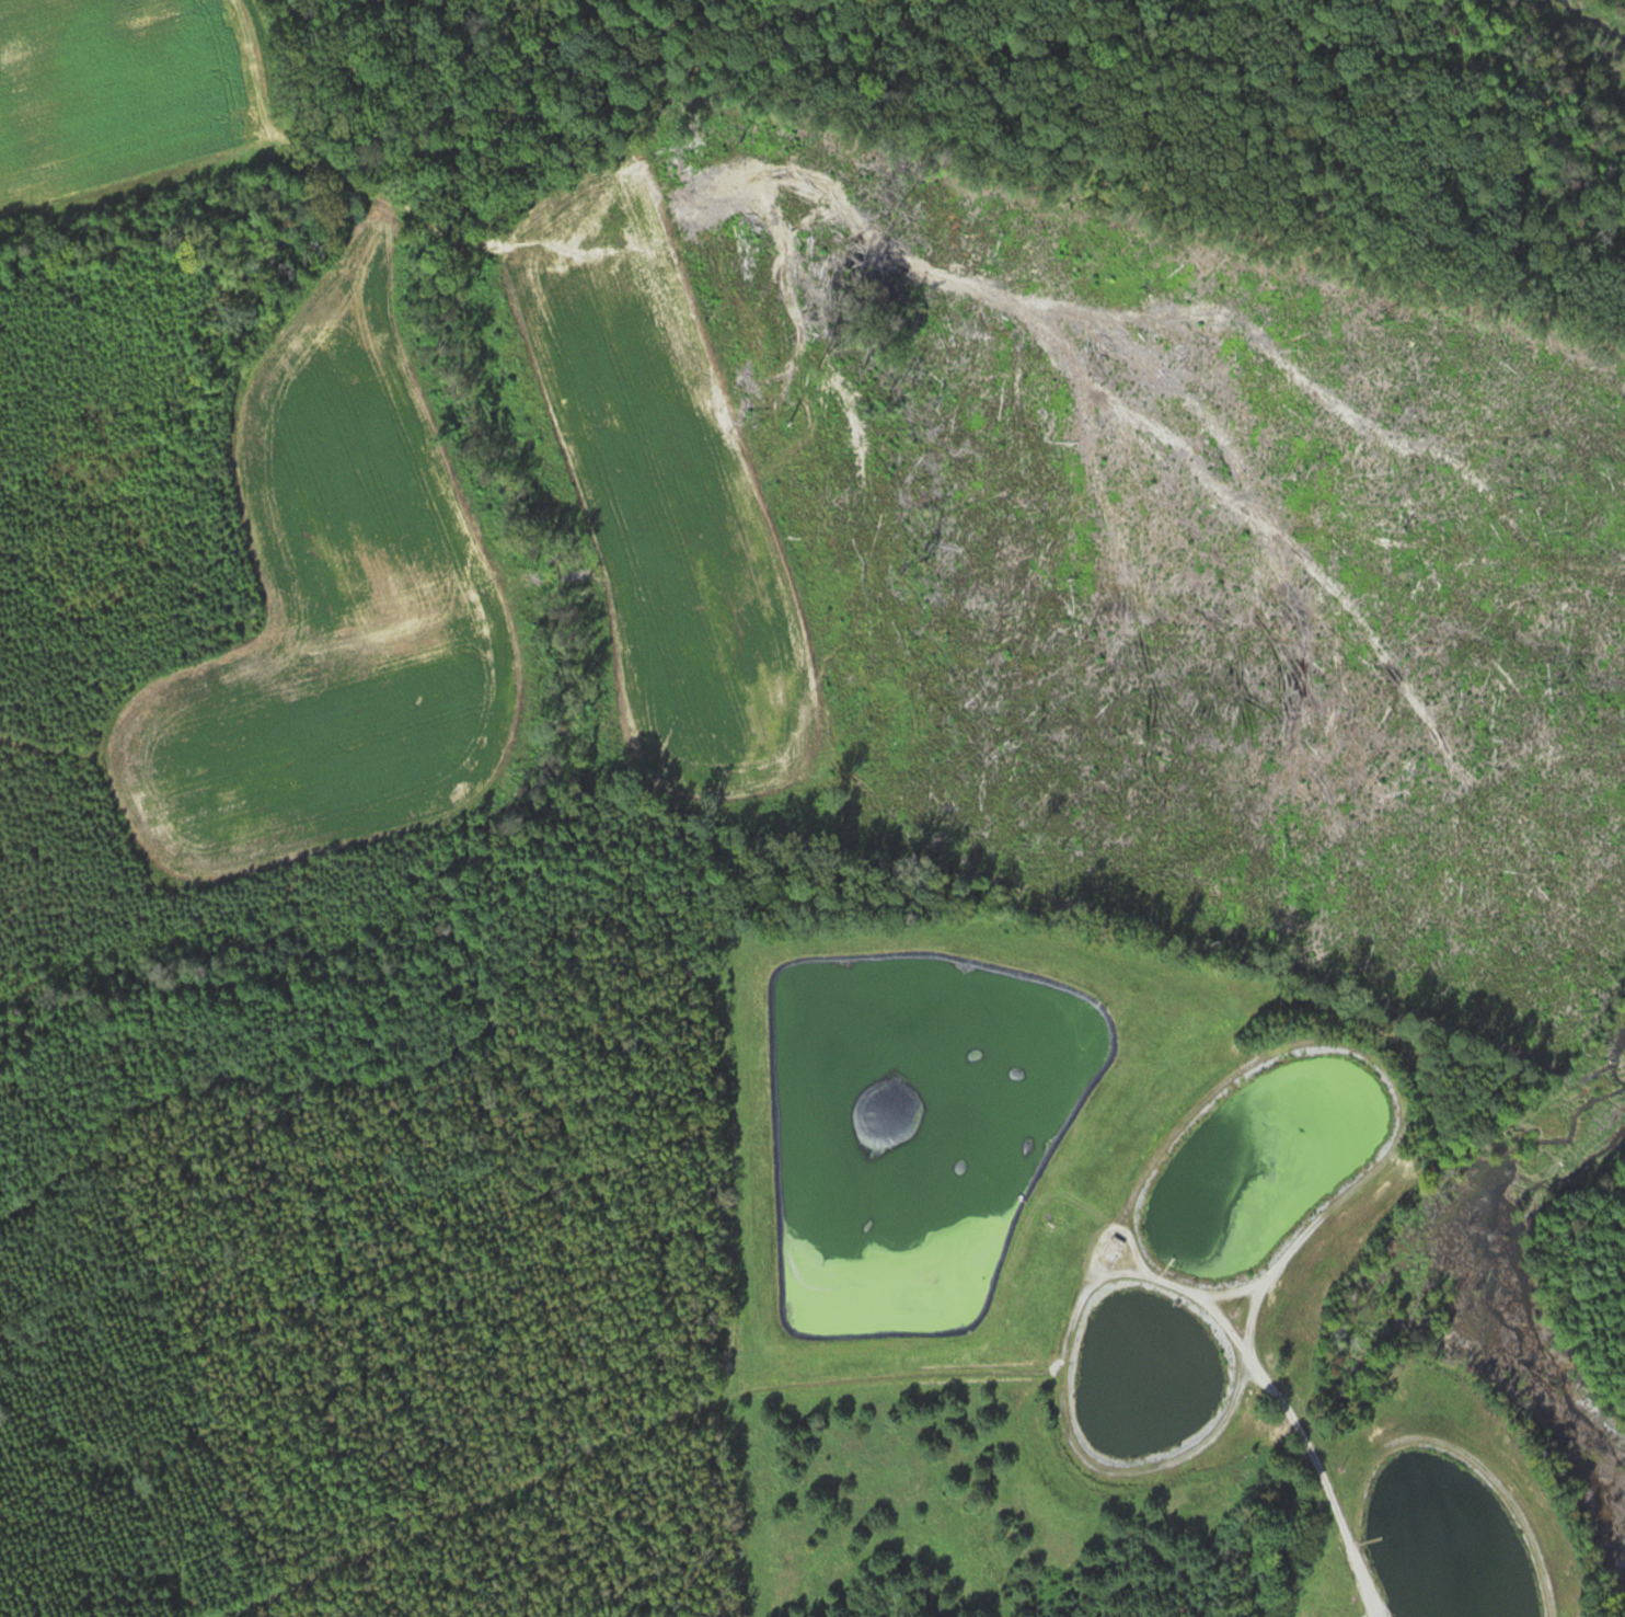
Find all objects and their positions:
building: (1113, 1250)
road: (479, 1493)

